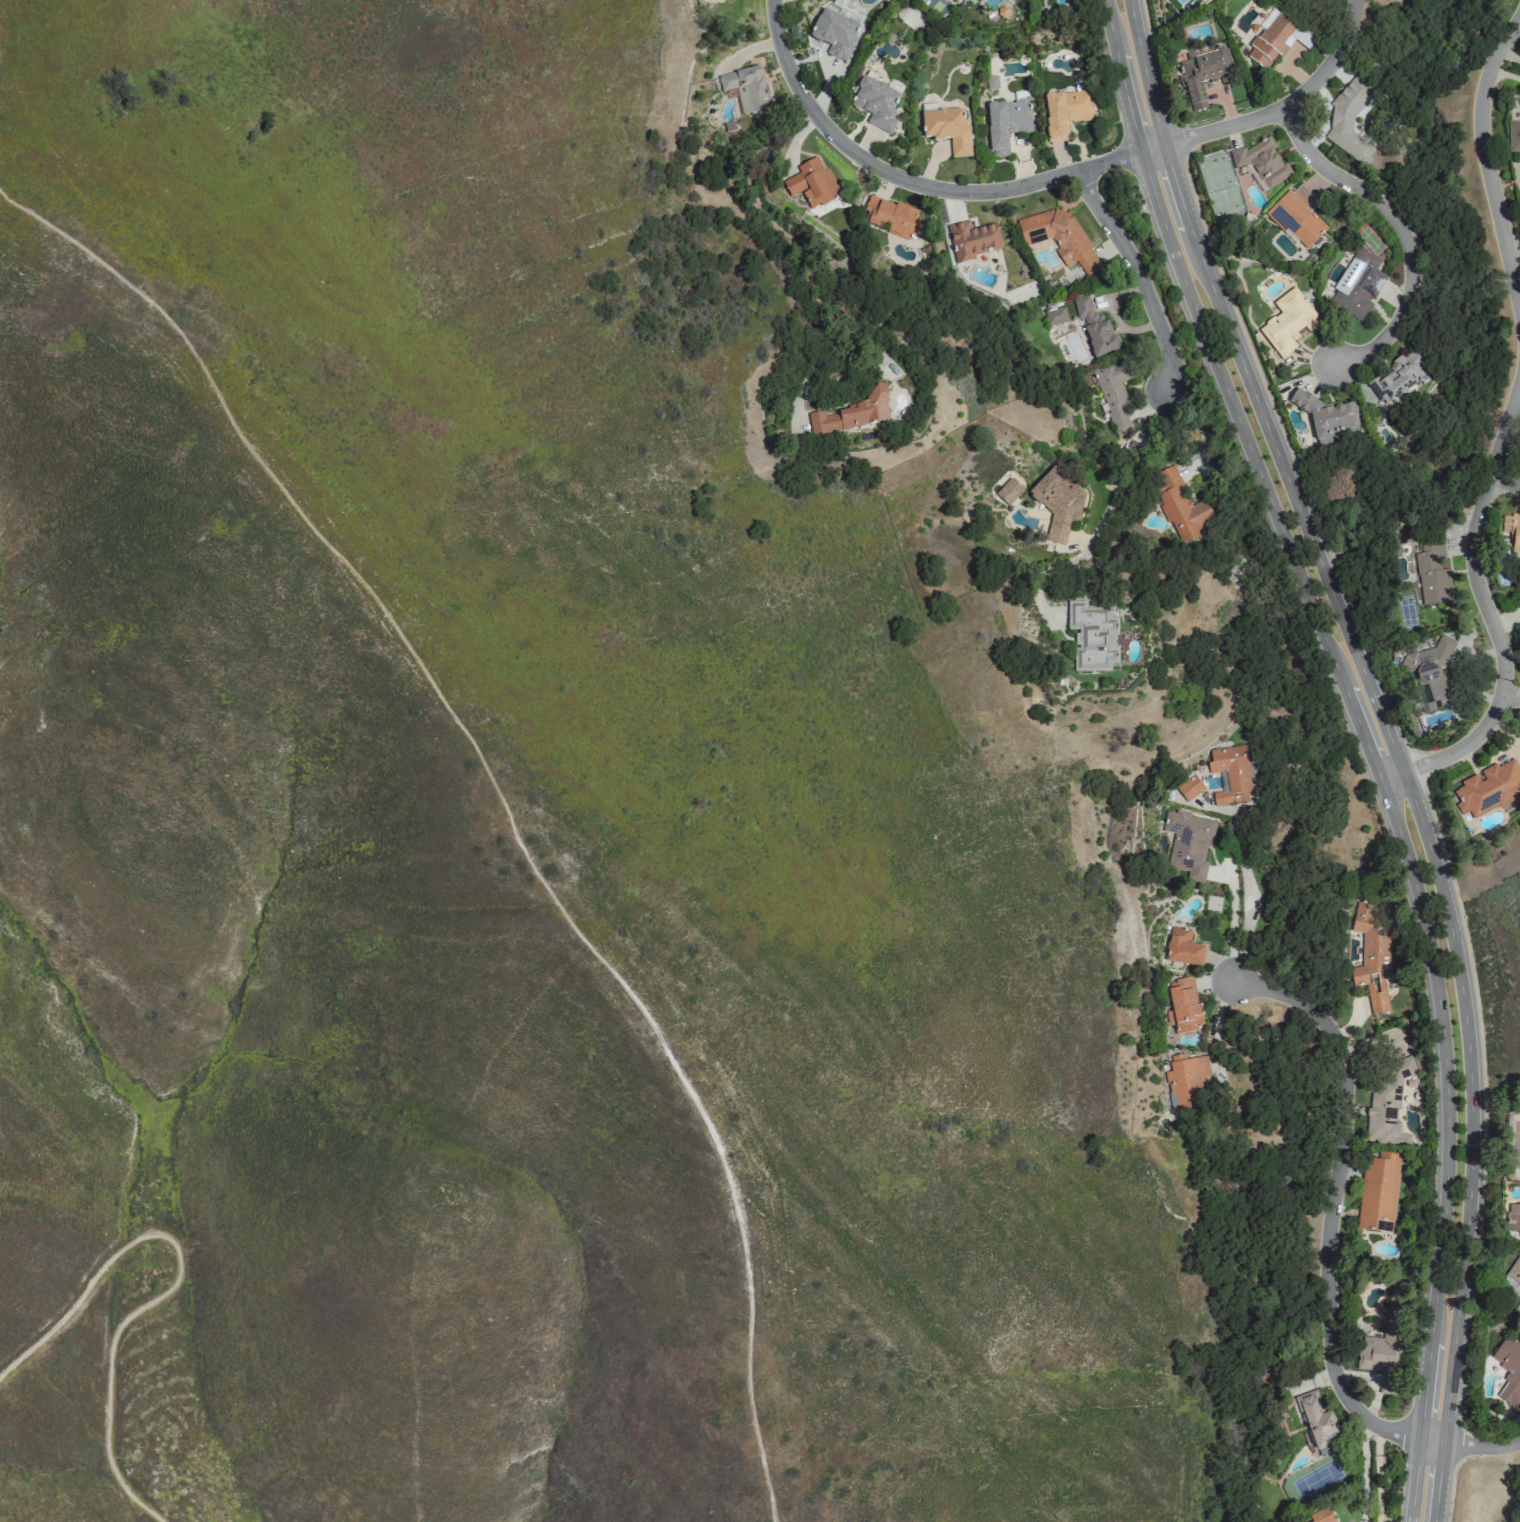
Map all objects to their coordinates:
building: (952, 0)
building: (833, 33)
building: (1277, 39)
road: (1142, 72)
building: (1203, 75)
building: (991, 82)
building: (746, 87)
building: (1351, 96)
building: (876, 103)
building: (1065, 112)
building: (1006, 123)
building: (946, 128)
building: (1513, 135)
building: (1349, 143)
building: (1262, 162)
road: (1484, 163)
road: (1045, 178)
building: (812, 183)
building: (889, 216)
building: (1298, 216)
road: (1402, 231)
building: (1060, 238)
building: (972, 240)
road: (1513, 258)
road: (1139, 276)
building: (1357, 285)
building: (1055, 316)
building: (1288, 322)
building: (1095, 328)
building: (1398, 376)
building: (1114, 394)
road: (1229, 396)
building: (851, 415)
building: (1325, 415)
road: (1279, 459)
road: (1503, 479)
building: (1008, 490)
building: (1060, 503)
building: (1179, 505)
road: (1102, 513)
building: (1512, 531)
building: (1432, 577)
road: (1482, 604)
building: (1092, 636)
road: (1511, 694)
building: (1230, 773)
building: (1189, 787)
building: (1489, 788)
road: (499, 797)
building: (1189, 842)
road: (1246, 895)
road: (1230, 922)
building: (1182, 947)
road: (1456, 947)
road: (1431, 953)
building: (1372, 955)
building: (1184, 1005)
road: (1216, 1026)
building: (1186, 1081)
building: (1378, 1192)
road: (1336, 1203)
building: (1513, 1217)
building: (1514, 1273)
road: (170, 1284)
road: (1434, 1325)
road: (1457, 1325)
building: (1382, 1350)
building: (1512, 1380)
building: (1317, 1423)
road: (1472, 1447)
building: (1321, 1517)

